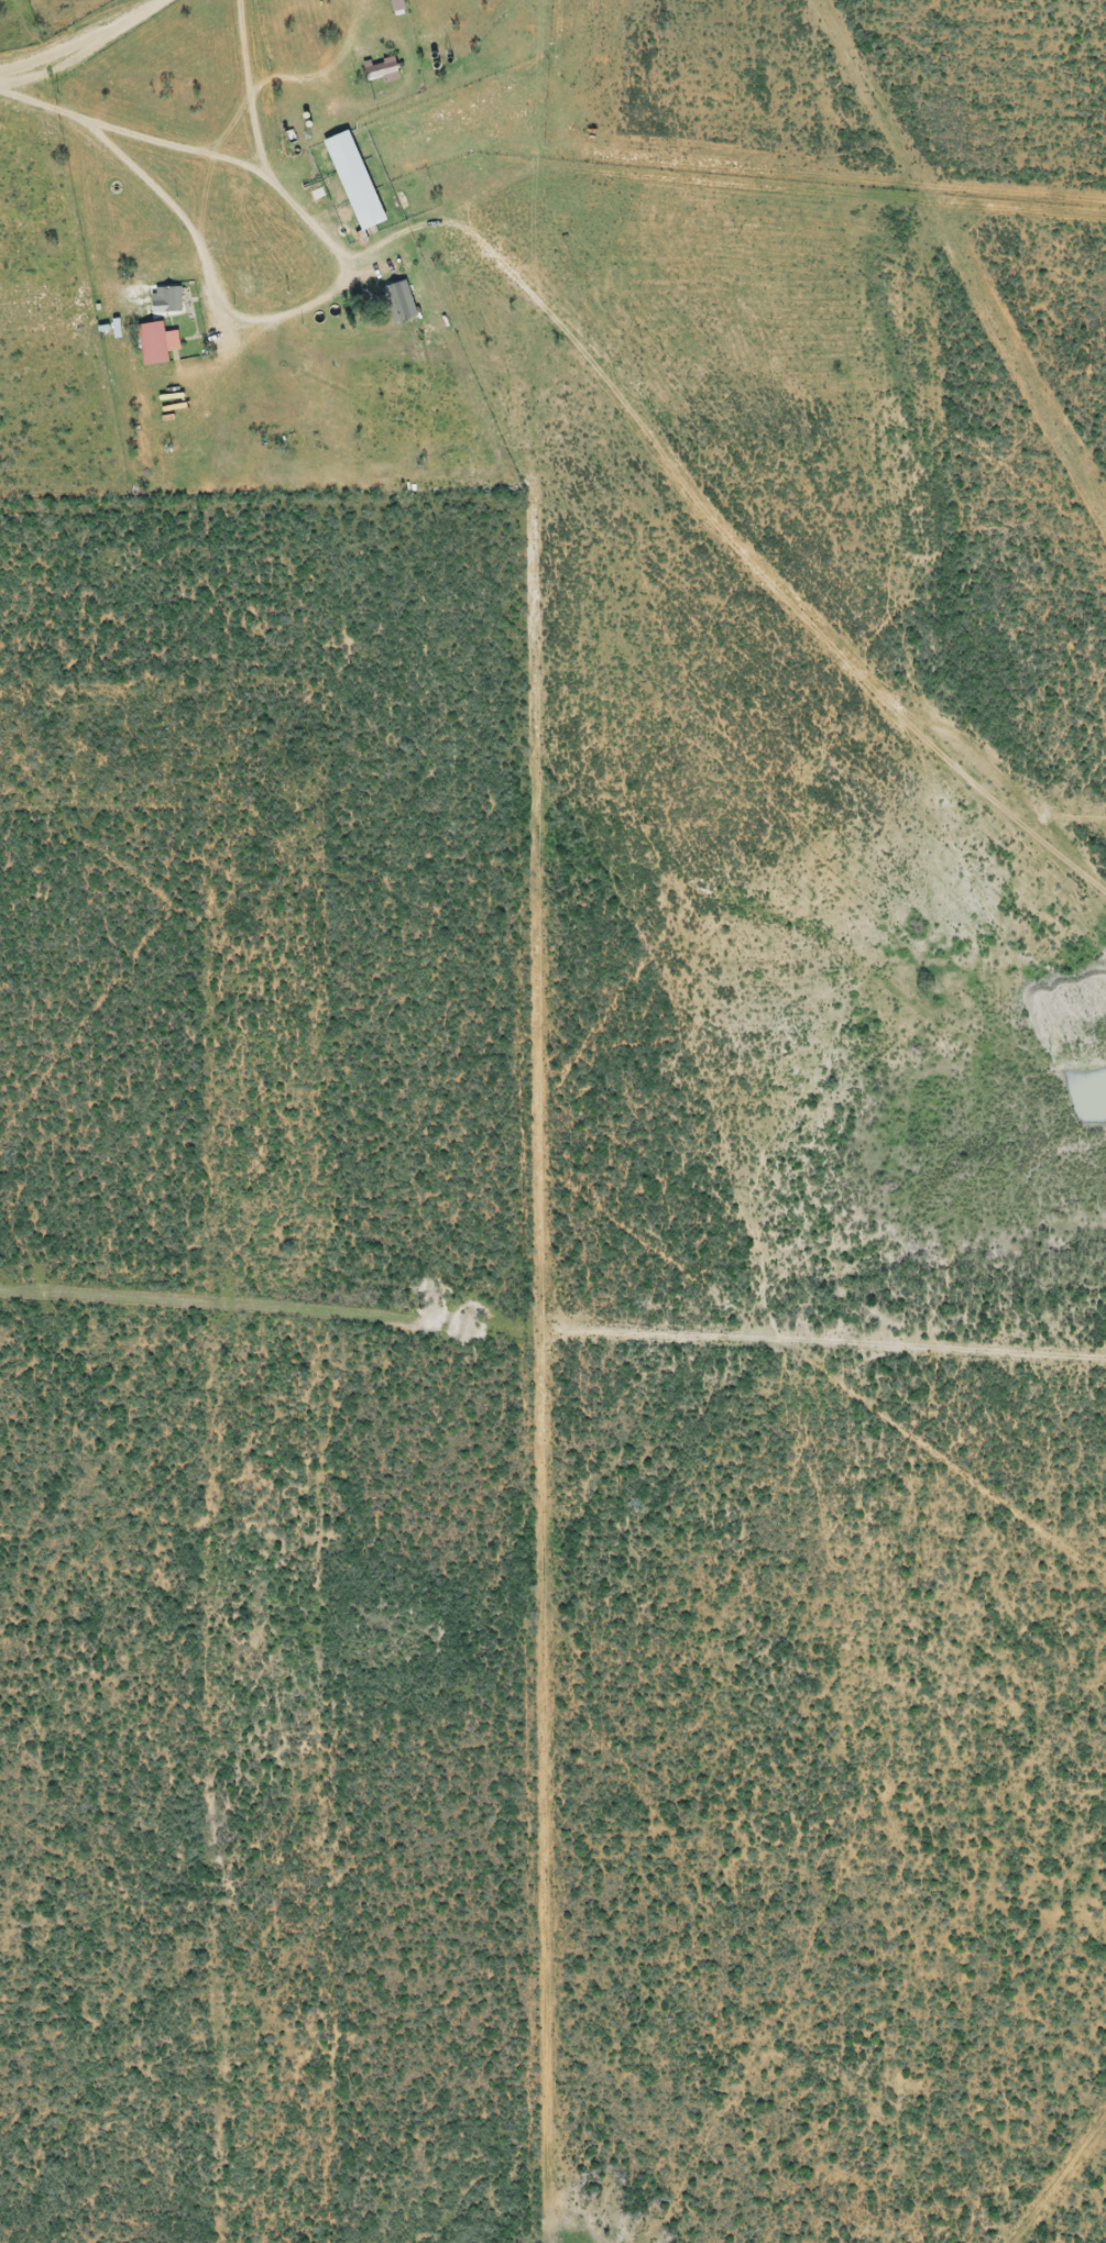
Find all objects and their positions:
building: (384, 69)
road: (119, 101)
road: (236, 146)
building: (358, 180)
building: (168, 300)
building: (401, 303)
building: (160, 365)
road: (621, 408)

